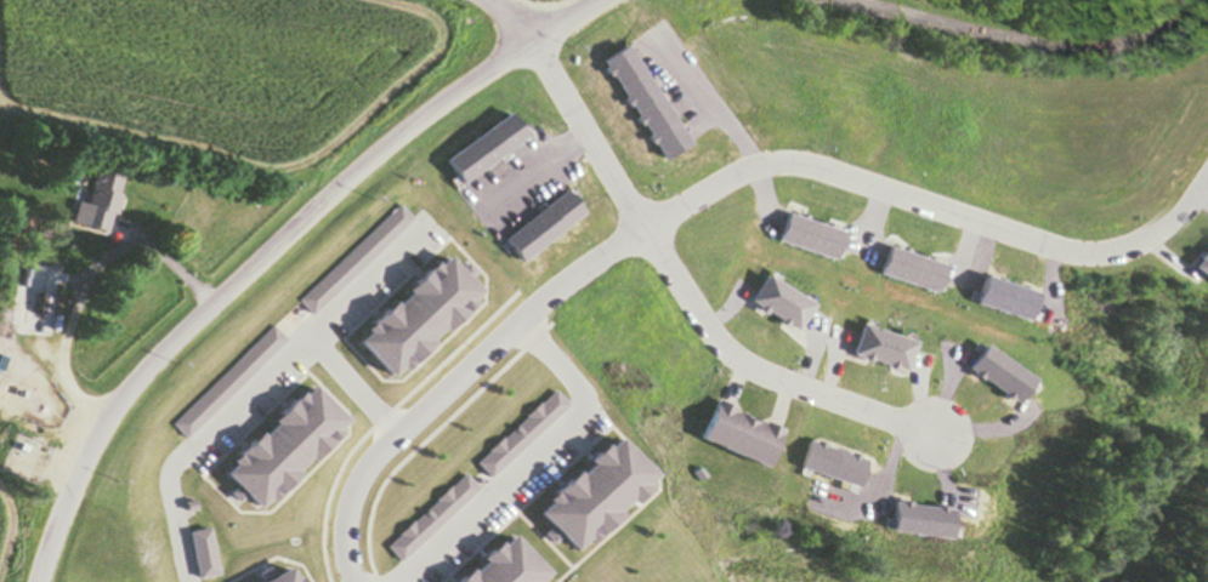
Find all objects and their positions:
road: (504, 19)
road: (1021, 39)
road: (710, 192)
building: (95, 202)
road: (267, 247)
building: (1203, 263)
road: (369, 290)
road: (686, 293)
building: (415, 318)
road: (251, 401)
building: (523, 435)
building: (743, 435)
building: (282, 449)
road: (529, 458)
building: (596, 495)
building: (435, 519)
building: (204, 553)
building: (514, 566)
building: (285, 576)

